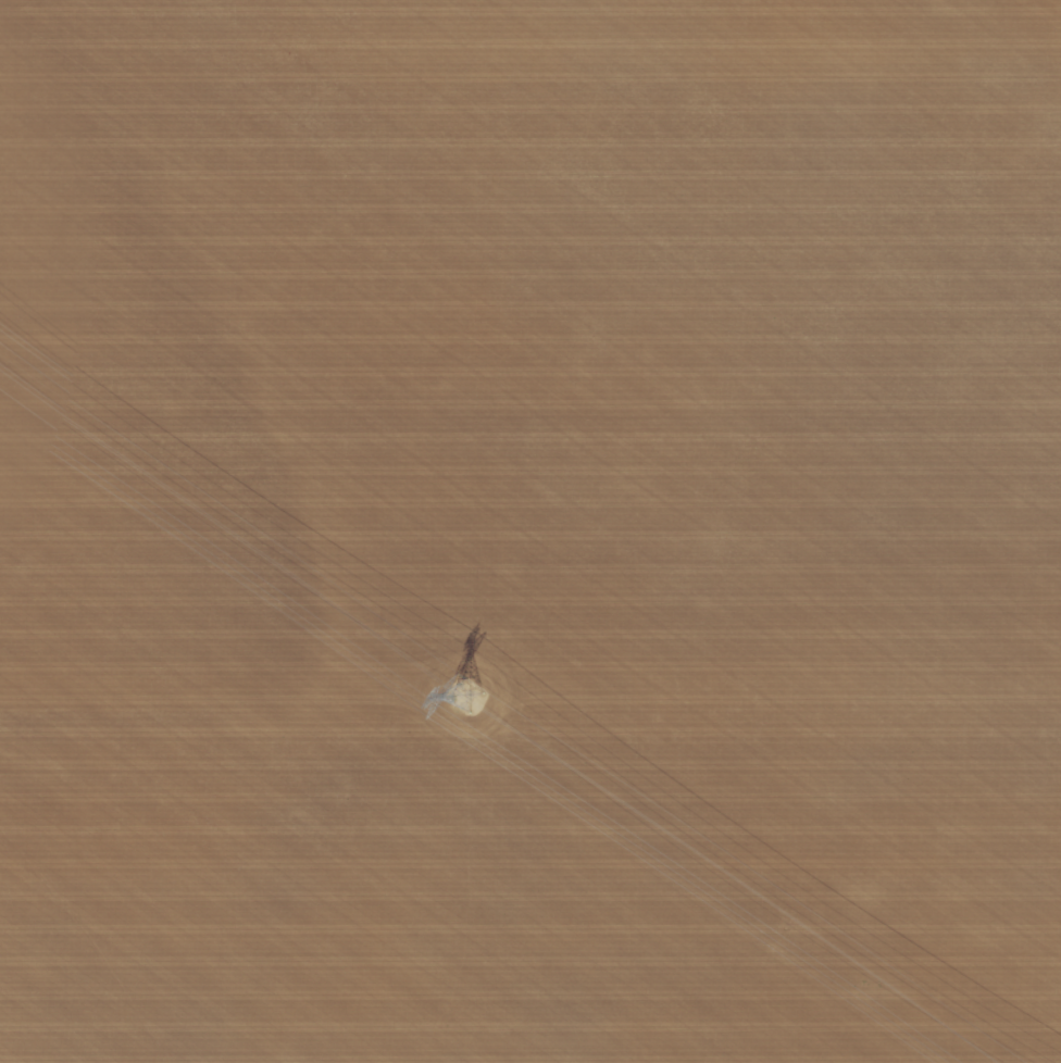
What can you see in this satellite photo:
power tower: (466, 695)

